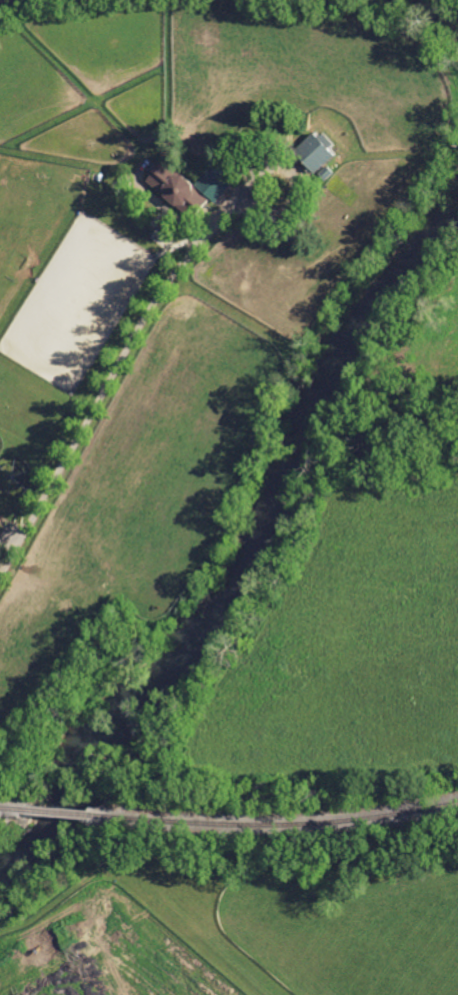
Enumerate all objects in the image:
river: (6, 2)
river: (426, 15)
building: (314, 151)
building: (186, 187)
road: (105, 385)
river: (249, 567)
railway: (17, 808)
railway: (63, 812)
railway: (275, 824)

